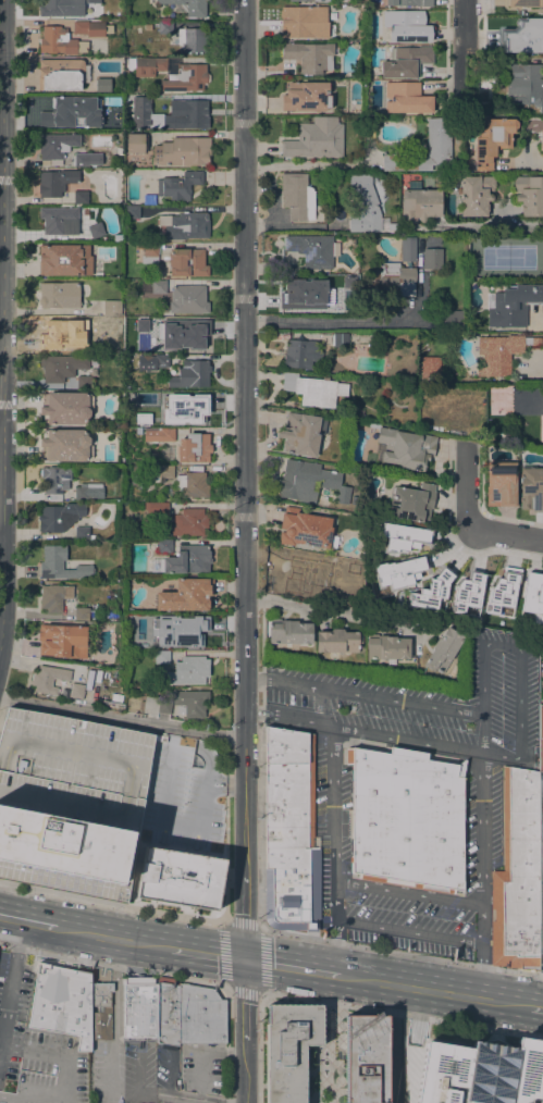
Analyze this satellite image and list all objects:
building: (310, 0)
building: (406, 2)
building: (523, 2)
building: (63, 7)
building: (187, 7)
building: (304, 22)
building: (406, 26)
building: (164, 27)
building: (88, 28)
building: (522, 35)
building: (193, 39)
building: (55, 40)
road: (462, 51)
building: (309, 57)
building: (406, 62)
building: (170, 72)
building: (61, 74)
building: (523, 79)
building: (305, 96)
building: (405, 98)
building: (163, 100)
building: (53, 110)
building: (189, 115)
building: (86, 120)
building: (116, 120)
building: (439, 135)
building: (316, 139)
building: (541, 139)
building: (492, 140)
building: (135, 144)
building: (55, 145)
building: (182, 151)
building: (86, 159)
road: (307, 163)
building: (460, 165)
road: (529, 165)
building: (55, 182)
building: (178, 185)
building: (476, 195)
building: (529, 195)
building: (297, 196)
building: (79, 197)
building: (149, 199)
building: (366, 201)
building: (419, 202)
building: (131, 211)
building: (60, 221)
road: (296, 224)
road: (490, 225)
building: (183, 226)
building: (390, 226)
building: (311, 249)
building: (407, 249)
building: (148, 251)
building: (51, 258)
building: (432, 259)
building: (187, 262)
building: (87, 271)
building: (509, 277)
building: (391, 280)
building: (156, 285)
building: (59, 295)
building: (311, 298)
building: (188, 299)
building: (511, 303)
building: (112, 308)
road: (542, 315)
building: (453, 319)
road: (346, 321)
road: (2, 322)
building: (165, 323)
building: (54, 331)
building: (187, 337)
building: (341, 339)
building: (535, 342)
building: (81, 345)
building: (113, 346)
building: (371, 348)
building: (303, 354)
building: (497, 355)
building: (161, 360)
building: (61, 365)
building: (430, 365)
building: (190, 374)
building: (84, 383)
building: (313, 389)
building: (162, 397)
building: (65, 408)
building: (194, 411)
building: (357, 412)
building: (129, 432)
building: (159, 434)
building: (301, 434)
building: (65, 445)
building: (542, 447)
building: (194, 448)
building: (404, 448)
building: (165, 453)
building: (159, 473)
building: (136, 475)
road: (243, 479)
building: (55, 482)
building: (310, 482)
building: (192, 484)
building: (501, 484)
road: (467, 488)
building: (531, 488)
building: (87, 491)
building: (411, 503)
building: (160, 509)
building: (59, 516)
building: (189, 522)
building: (305, 529)
building: (83, 533)
road: (1, 536)
building: (403, 536)
road: (505, 536)
building: (164, 546)
building: (184, 560)
building: (60, 563)
building: (397, 572)
building: (305, 573)
building: (467, 592)
building: (429, 593)
building: (503, 594)
building: (532, 594)
building: (185, 596)
building: (53, 597)
road: (332, 610)
building: (82, 614)
building: (288, 632)
building: (196, 633)
building: (62, 641)
building: (336, 641)
road: (502, 646)
building: (386, 648)
building: (444, 649)
building: (163, 655)
building: (190, 670)
building: (48, 679)
building: (75, 690)
road: (362, 694)
road: (482, 696)
building: (189, 703)
road: (520, 703)
building: (163, 705)
road: (2, 706)
road: (121, 718)
road: (361, 730)
building: (541, 738)
road: (501, 753)
building: (70, 802)
road: (331, 803)
building: (407, 819)
road: (259, 820)
road: (225, 829)
building: (288, 832)
road: (482, 846)
building: (517, 875)
building: (180, 878)
road: (408, 892)
road: (111, 902)
road: (27, 920)
road: (409, 931)
road: (18, 935)
road: (112, 938)
road: (335, 946)
road: (208, 952)
road: (402, 952)
traffic signals: (245, 958)
road: (113, 964)
road: (288, 966)
road: (480, 970)
road: (225, 983)
road: (116, 989)
road: (431, 990)
building: (61, 1002)
road: (8, 1004)
road: (535, 1007)
building: (140, 1008)
building: (101, 1011)
building: (168, 1013)
road: (402, 1014)
building: (199, 1015)
road: (416, 1016)
road: (244, 1030)
road: (394, 1043)
road: (225, 1044)
road: (259, 1046)
building: (287, 1049)
road: (37, 1050)
road: (207, 1053)
building: (365, 1058)
building: (481, 1071)
road: (168, 1077)
road: (69, 1078)
road: (145, 1091)
road: (32, 1098)

